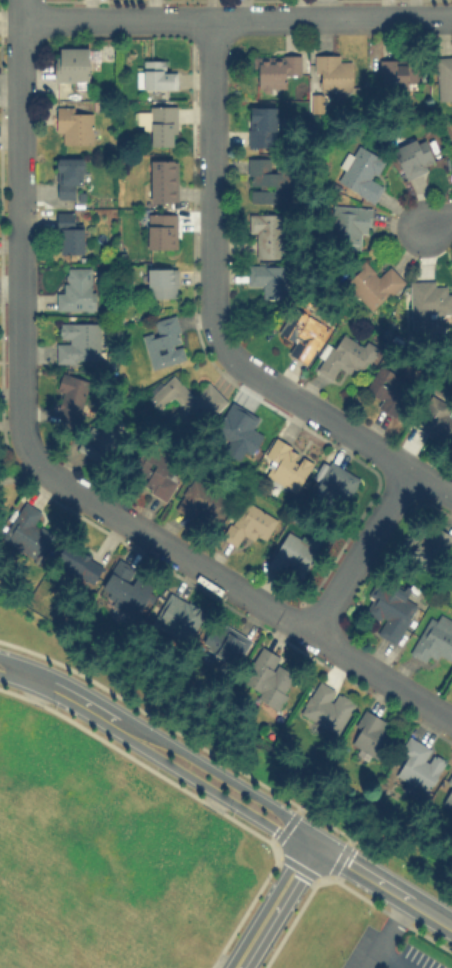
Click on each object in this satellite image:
road: (234, 20)
building: (70, 65)
building: (275, 68)
building: (398, 71)
building: (331, 73)
building: (156, 74)
building: (444, 77)
building: (159, 123)
building: (73, 124)
building: (261, 125)
building: (411, 156)
building: (360, 171)
building: (67, 175)
building: (162, 180)
building: (264, 181)
road: (210, 199)
road: (17, 212)
road: (438, 219)
building: (348, 224)
building: (161, 230)
building: (266, 232)
building: (67, 233)
building: (266, 278)
building: (161, 281)
building: (373, 284)
building: (76, 289)
building: (426, 301)
building: (302, 334)
building: (77, 341)
building: (163, 341)
building: (345, 357)
building: (386, 387)
building: (74, 393)
building: (186, 397)
building: (436, 419)
building: (241, 428)
road: (346, 432)
building: (103, 436)
building: (92, 449)
building: (286, 464)
building: (156, 472)
building: (336, 481)
building: (203, 500)
building: (248, 523)
building: (26, 530)
building: (430, 544)
building: (293, 553)
road: (359, 553)
building: (78, 563)
building: (451, 580)
road: (223, 584)
building: (127, 585)
building: (388, 611)
building: (178, 615)
building: (434, 638)
building: (226, 641)
building: (268, 677)
building: (326, 707)
building: (370, 733)
road: (158, 736)
road: (154, 754)
building: (419, 764)
building: (447, 794)
road: (314, 840)
road: (386, 885)
road: (266, 901)
road: (284, 906)
road: (389, 933)
road: (396, 958)

